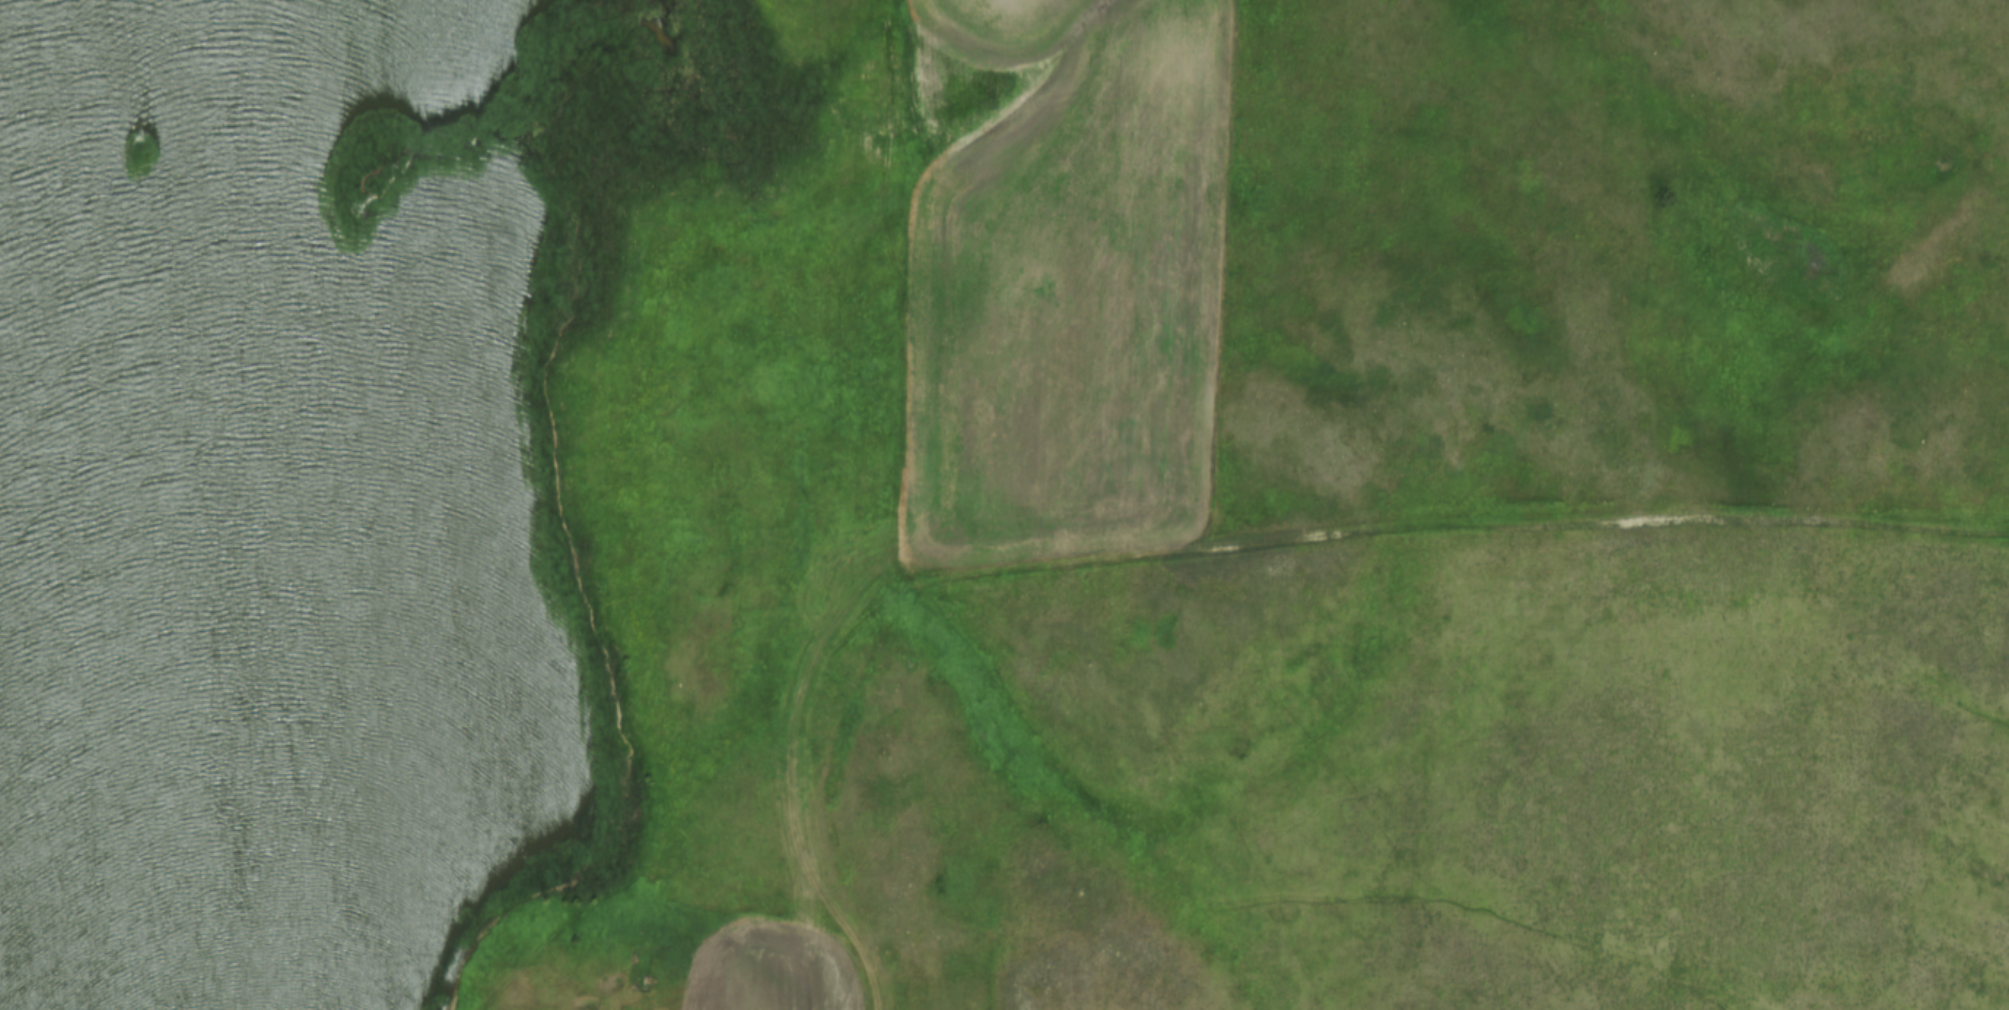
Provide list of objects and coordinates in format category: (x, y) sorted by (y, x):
road: (692, 782)

